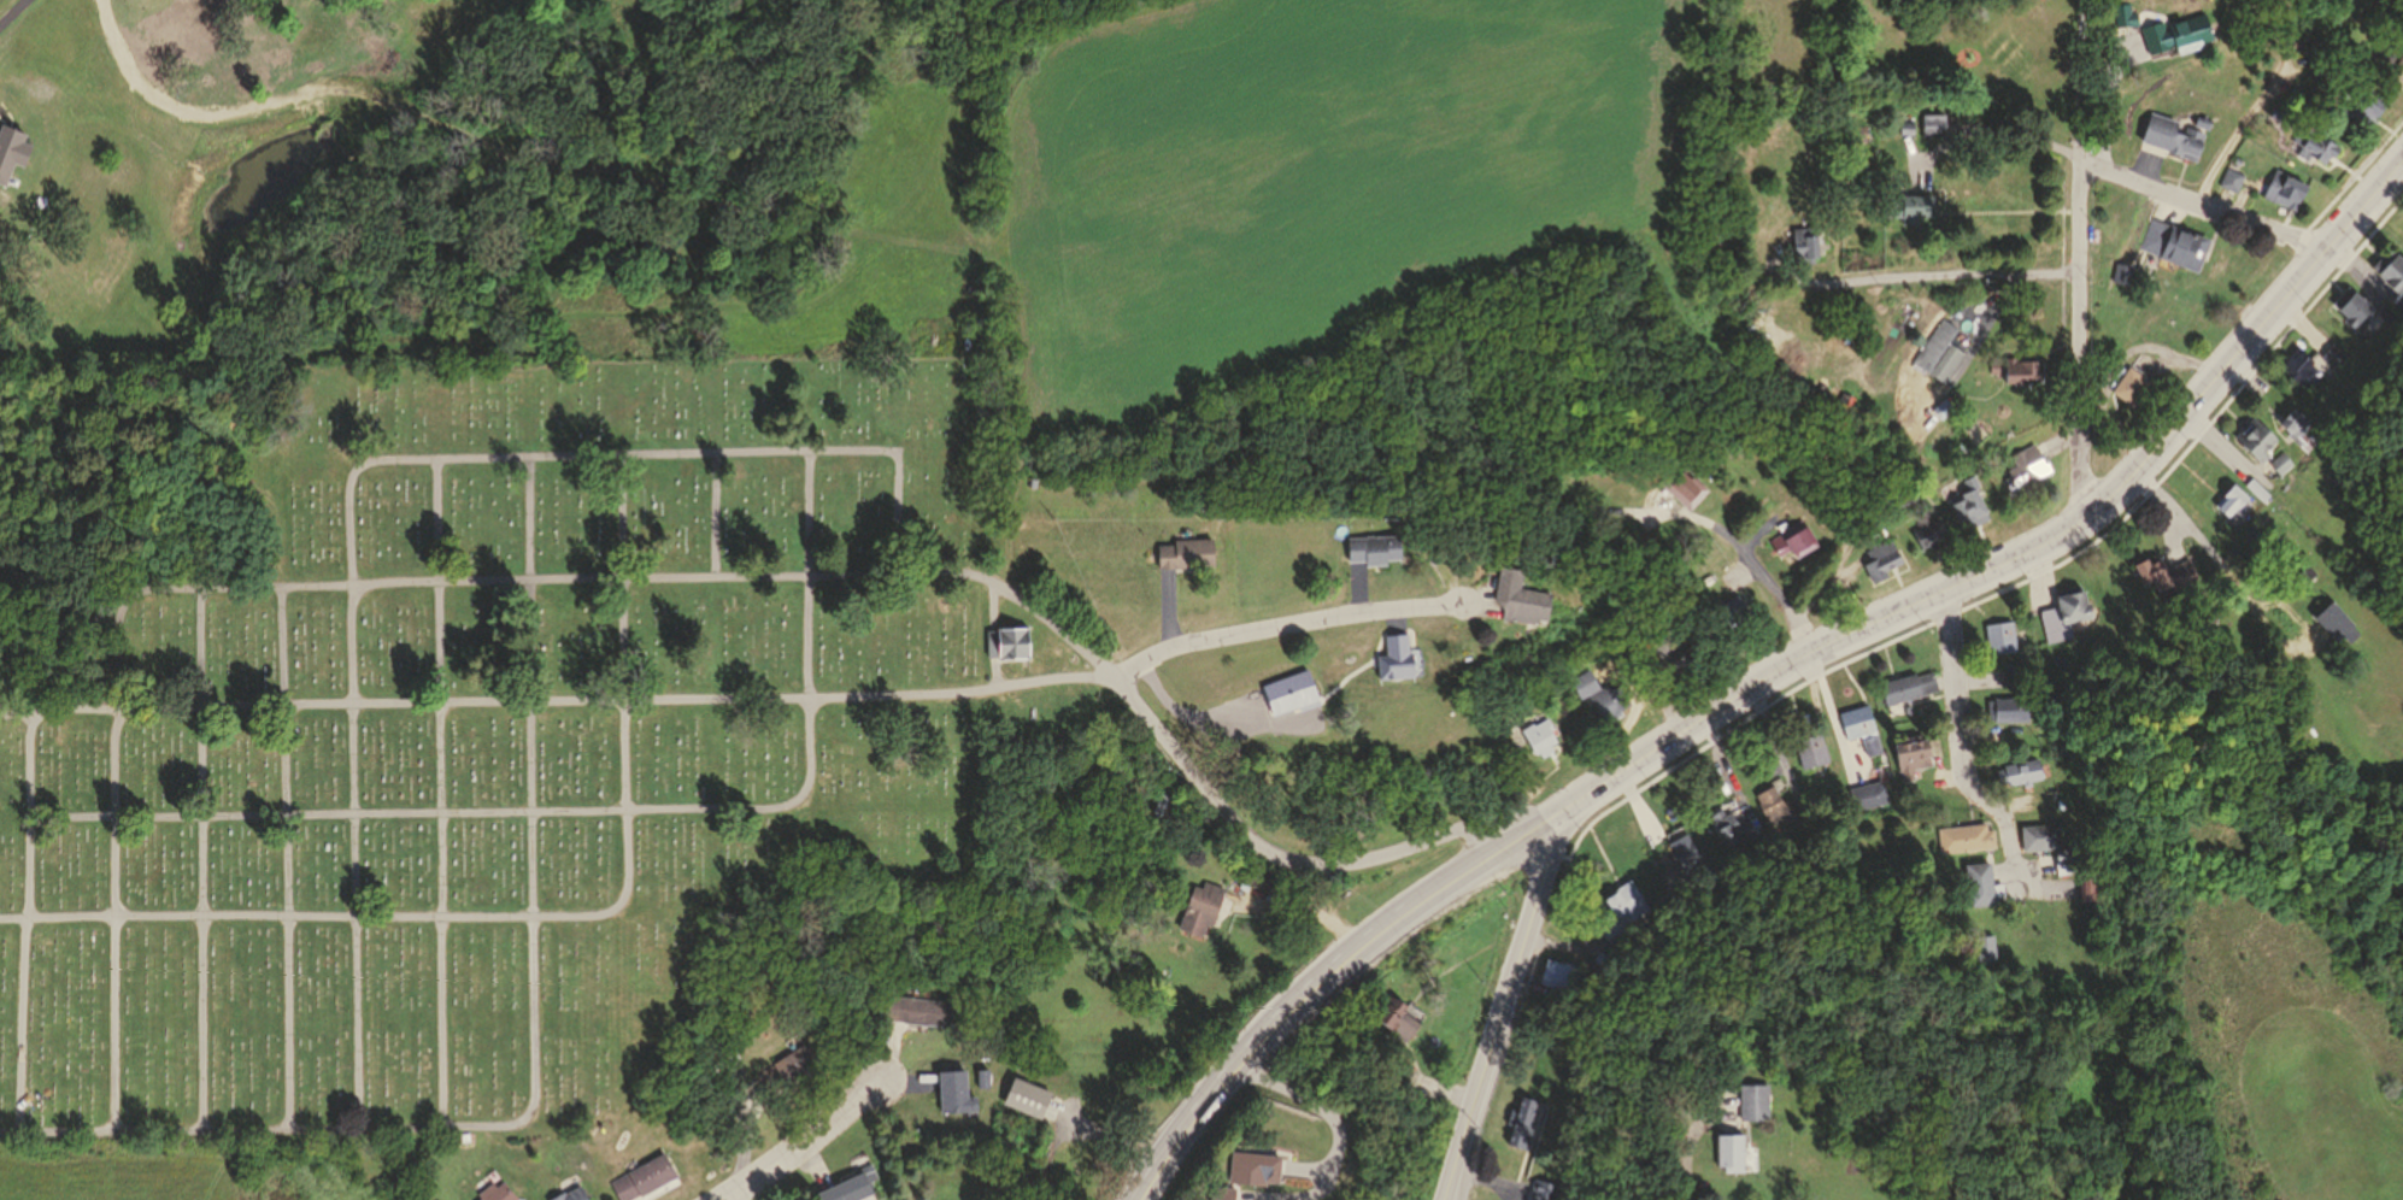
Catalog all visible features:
building: (2122, 19)
road: (2321, 29)
building: (2170, 40)
building: (2396, 69)
road: (2076, 82)
road: (2105, 98)
building: (2361, 102)
road: (225, 104)
road: (2257, 104)
building: (2279, 113)
building: (2199, 123)
building: (1903, 127)
building: (1929, 131)
road: (1992, 134)
building: (2169, 136)
building: (2316, 140)
building: (2231, 175)
building: (2285, 186)
road: (2205, 200)
building: (1908, 211)
building: (2174, 243)
building: (1800, 247)
building: (2396, 265)
building: (2121, 273)
road: (1929, 280)
building: (2402, 290)
building: (2358, 302)
building: (2390, 302)
road: (2078, 339)
building: (2339, 343)
road: (2120, 349)
building: (1934, 353)
building: (2305, 358)
building: (2016, 372)
building: (2131, 382)
building: (1940, 411)
building: (2297, 414)
building: (1835, 416)
building: (2258, 435)
building: (2285, 454)
road: (1900, 459)
building: (2023, 465)
road: (359, 470)
building: (2260, 480)
building: (1684, 490)
building: (2237, 498)
building: (1969, 502)
road: (715, 517)
building: (1927, 533)
road: (1731, 535)
building: (1788, 546)
road: (2223, 549)
building: (1185, 553)
building: (1371, 553)
building: (2295, 558)
building: (1879, 559)
building: (2313, 564)
building: (2166, 567)
road: (642, 582)
building: (1512, 601)
building: (2068, 607)
building: (1735, 608)
building: (2342, 613)
building: (2329, 623)
road: (1282, 627)
building: (2005, 630)
road: (993, 636)
building: (1009, 649)
building: (1670, 653)
building: (1391, 661)
building: (2019, 666)
building: (1665, 669)
road: (1769, 669)
building: (1910, 682)
building: (2063, 682)
building: (1602, 694)
building: (1286, 696)
building: (2011, 701)
road: (554, 704)
park: (466, 720)
building: (1864, 724)
building: (1539, 734)
road: (1963, 737)
building: (1814, 746)
building: (1913, 752)
building: (2022, 764)
building: (2016, 773)
building: (1869, 790)
road: (439, 793)
building: (1779, 800)
road: (589, 816)
building: (1731, 823)
building: (2046, 827)
building: (1968, 831)
building: (2039, 839)
building: (2073, 849)
building: (1696, 851)
road: (1281, 857)
building: (1686, 857)
road: (287, 860)
road: (200, 861)
building: (1982, 873)
building: (2093, 875)
building: (1257, 876)
building: (1629, 890)
building: (1203, 902)
road: (1303, 906)
road: (536, 917)
road: (22, 924)
road: (1569, 935)
building: (1985, 951)
building: (1563, 964)
road: (1505, 1004)
building: (918, 1008)
building: (1398, 1013)
building: (725, 1053)
building: (789, 1064)
building: (983, 1072)
building: (956, 1089)
building: (1028, 1094)
building: (1753, 1100)
road: (1324, 1107)
building: (1526, 1114)
road: (1077, 1122)
road: (377, 1130)
road: (57, 1134)
road: (797, 1136)
road: (1688, 1136)
building: (1729, 1149)
building: (405, 1163)
building: (1253, 1165)
building: (646, 1175)
building: (1549, 1184)
building: (845, 1187)
road: (1452, 1189)
building: (497, 1193)
building: (578, 1196)
building: (562, 1199)

